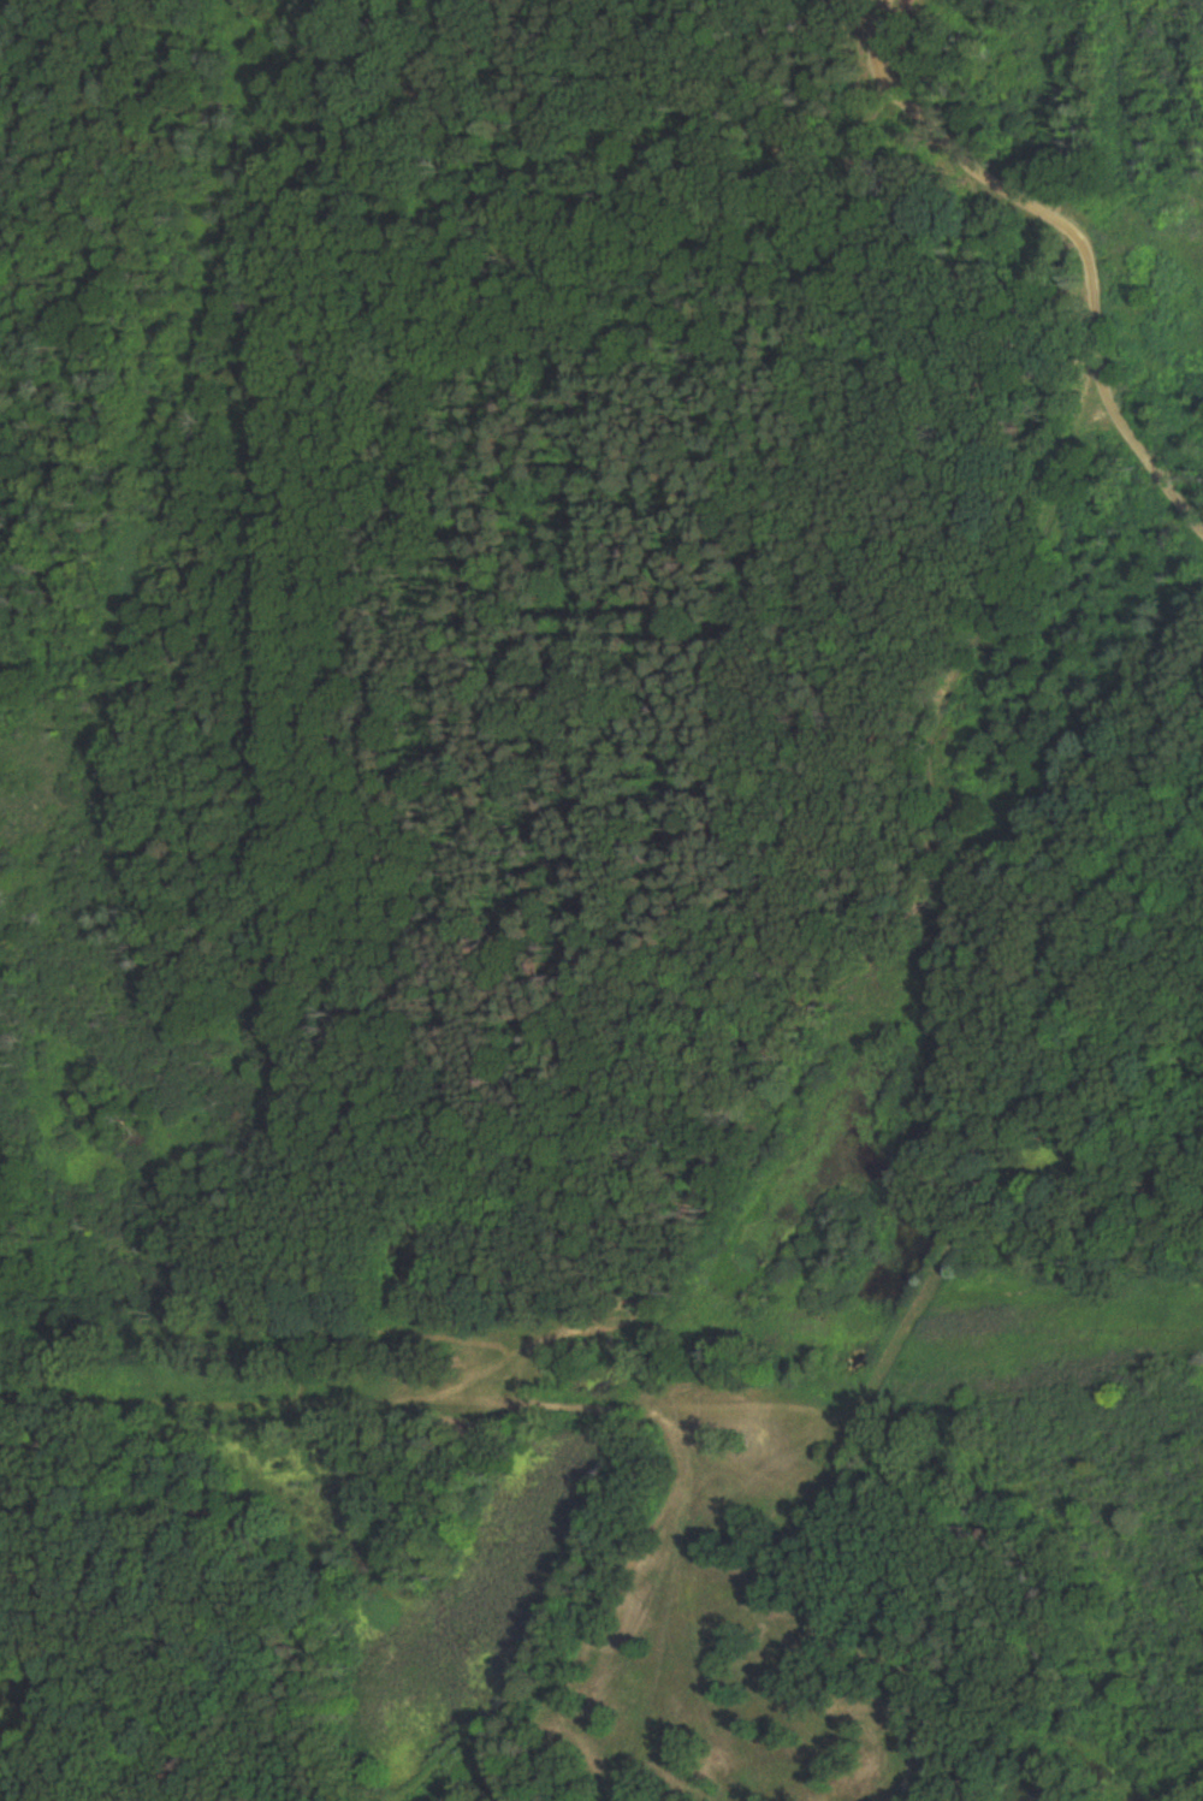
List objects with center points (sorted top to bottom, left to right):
road: (1080, 231)

